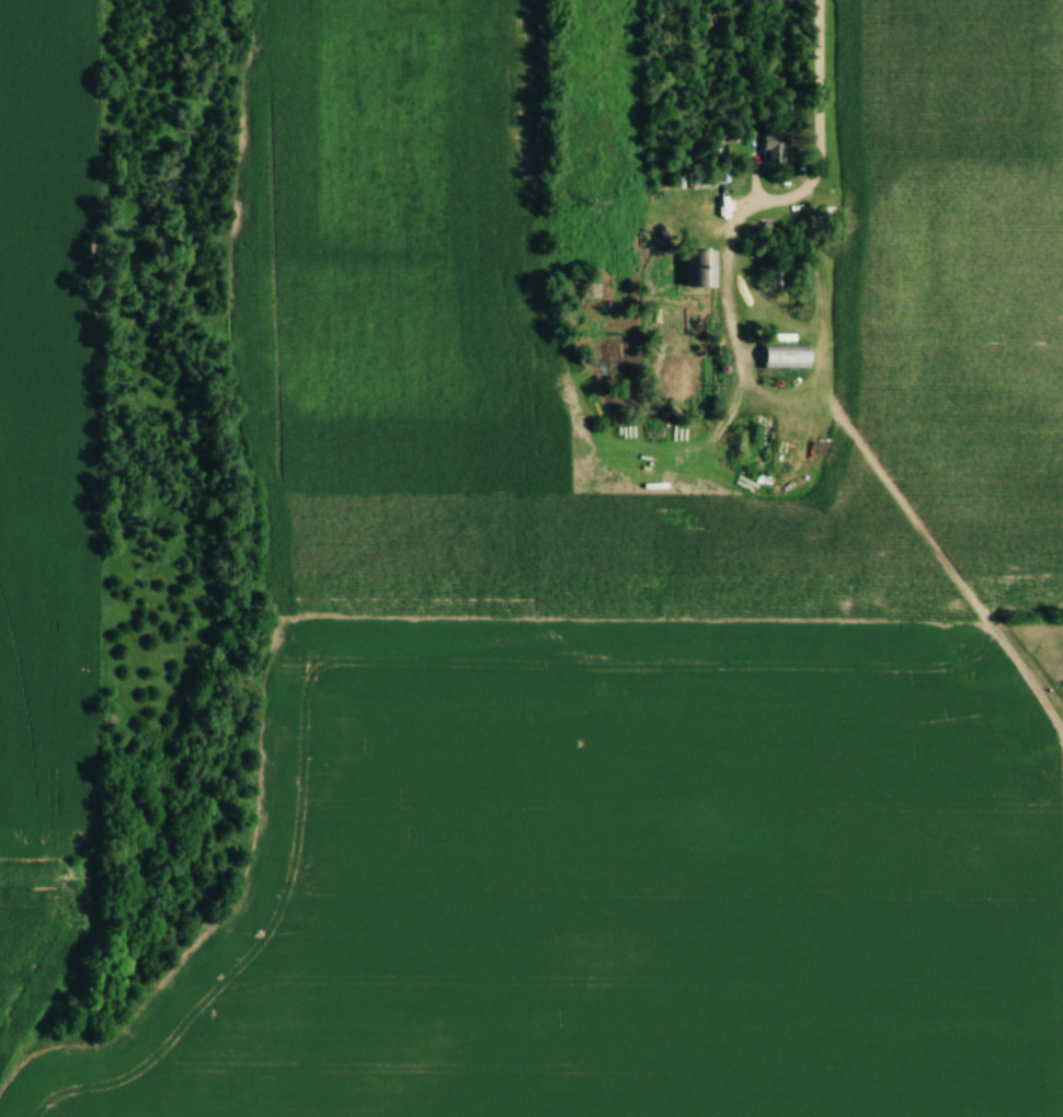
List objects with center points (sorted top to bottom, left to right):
road: (811, 127)
building: (777, 149)
building: (706, 272)
building: (791, 356)

